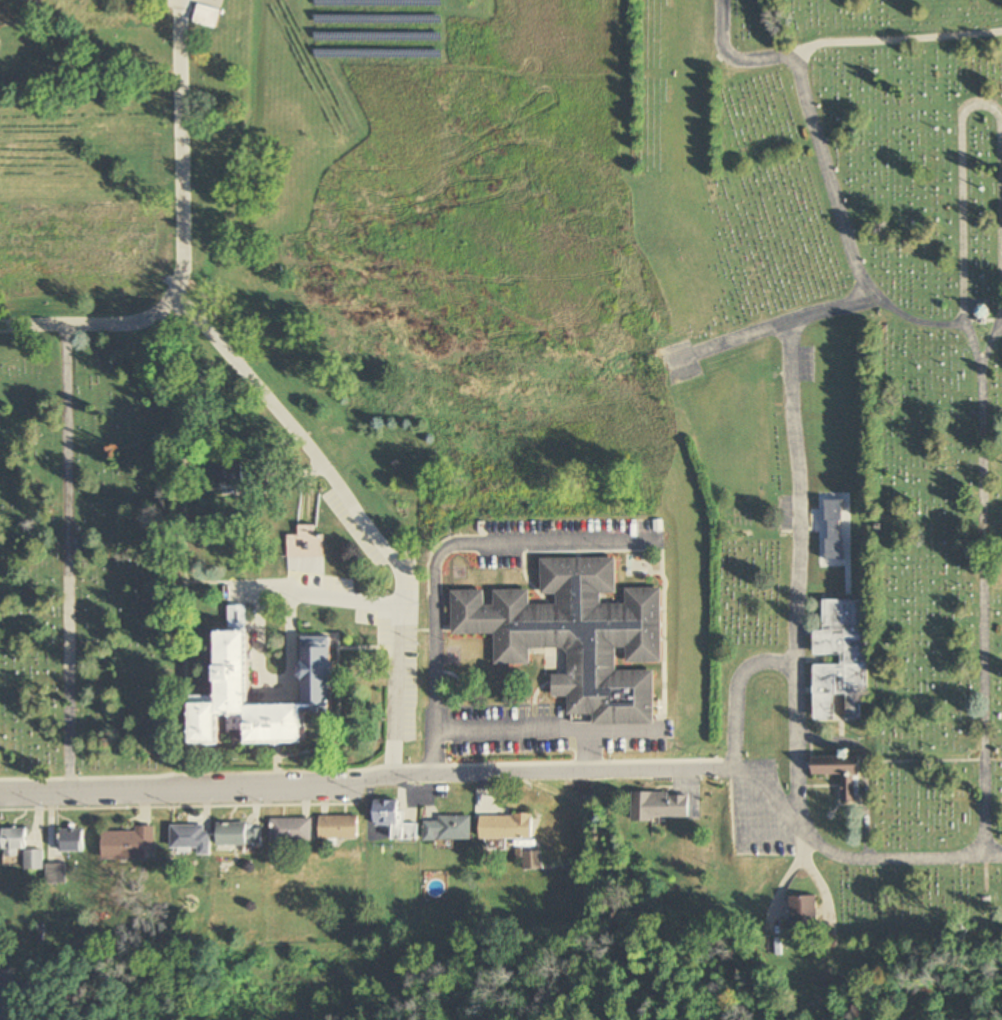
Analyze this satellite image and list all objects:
building: (207, 15)
solar farm: (369, 28)
road: (732, 59)
road: (981, 105)
road: (819, 150)
road: (184, 243)
road: (736, 340)
parking lot: (803, 363)
road: (795, 450)
building: (231, 475)
park: (828, 481)
road: (360, 512)
building: (310, 550)
park: (91, 555)
road: (441, 572)
road: (982, 588)
road: (323, 600)
building: (376, 632)
building: (576, 636)
building: (840, 660)
building: (317, 670)
road: (794, 670)
building: (235, 727)
road: (551, 737)
road: (596, 755)
building: (841, 775)
road: (340, 782)
building: (661, 806)
parking lot: (760, 818)
building: (396, 821)
building: (340, 827)
building: (508, 827)
building: (450, 828)
building: (293, 830)
building: (241, 834)
building: (191, 839)
building: (71, 841)
road: (815, 842)
building: (129, 844)
building: (21, 849)
road: (993, 856)
building: (533, 860)
building: (56, 873)
road: (786, 879)
road: (822, 893)
building: (804, 913)

